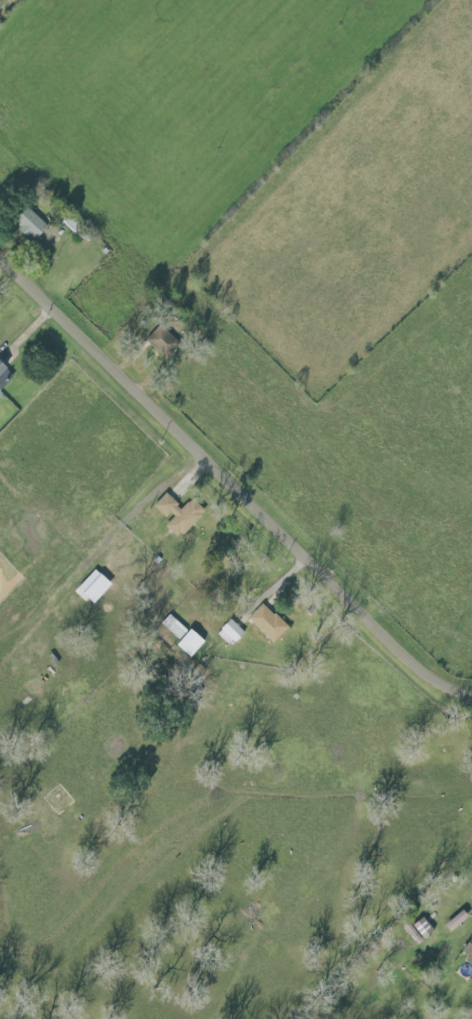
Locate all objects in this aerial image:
road: (11, 10)
building: (34, 225)
building: (166, 342)
building: (7, 377)
road: (231, 486)
building: (175, 512)
building: (271, 623)
building: (234, 633)
road: (285, 686)
building: (60, 801)
building: (419, 928)
building: (465, 955)

